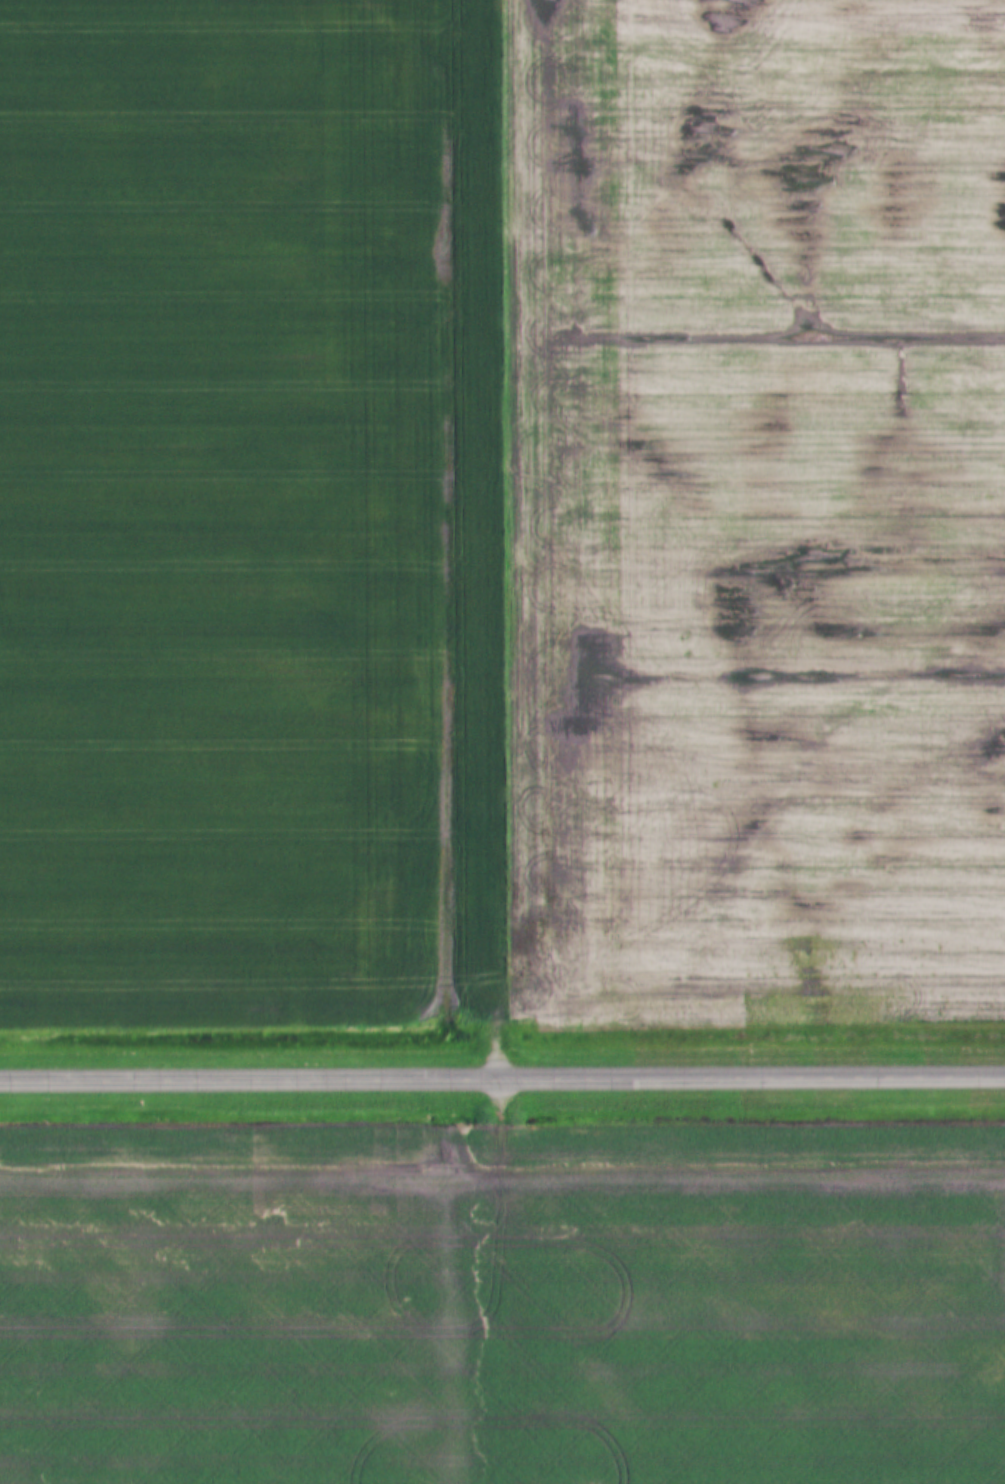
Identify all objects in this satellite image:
road: (502, 1085)
crop: (503, 1307)

